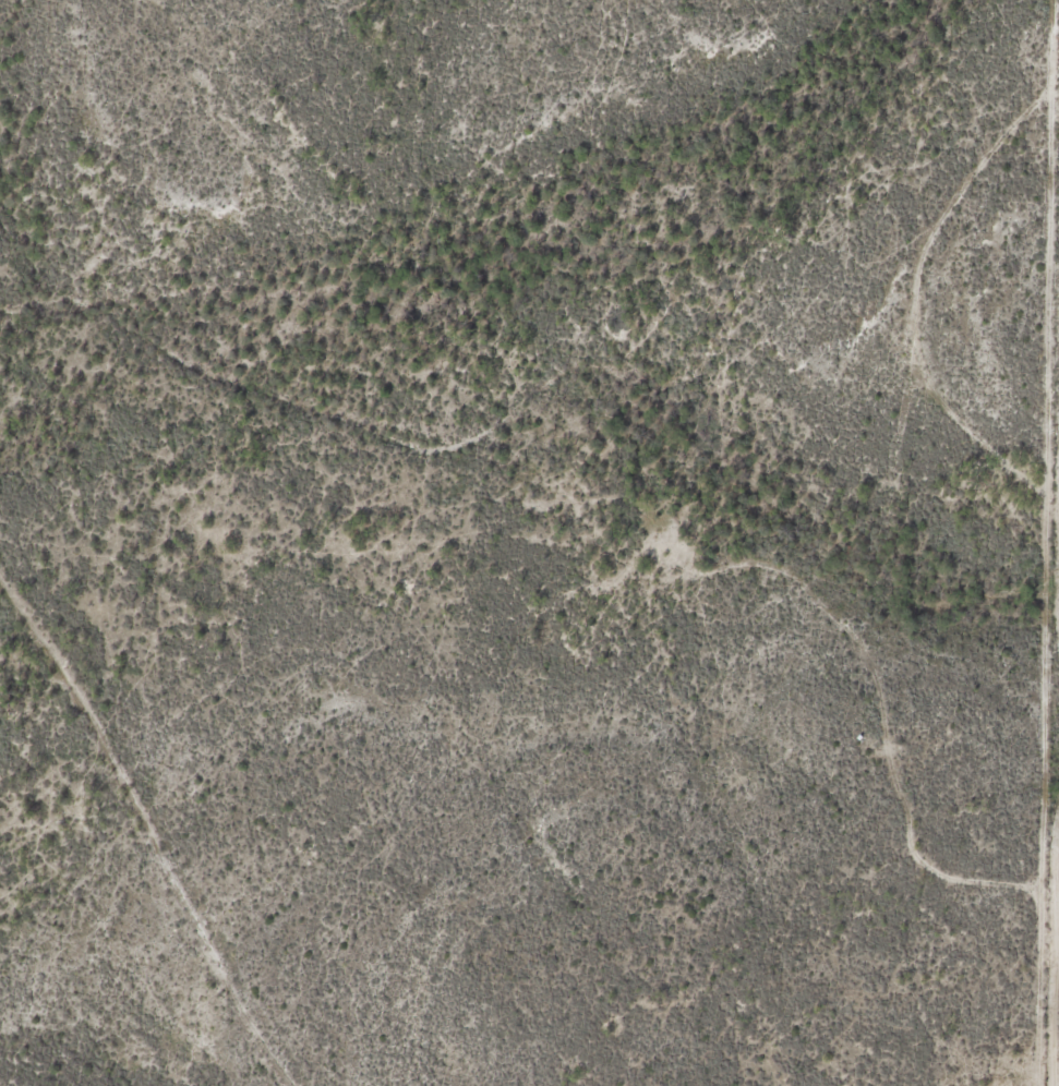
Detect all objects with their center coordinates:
road: (155, 829)

